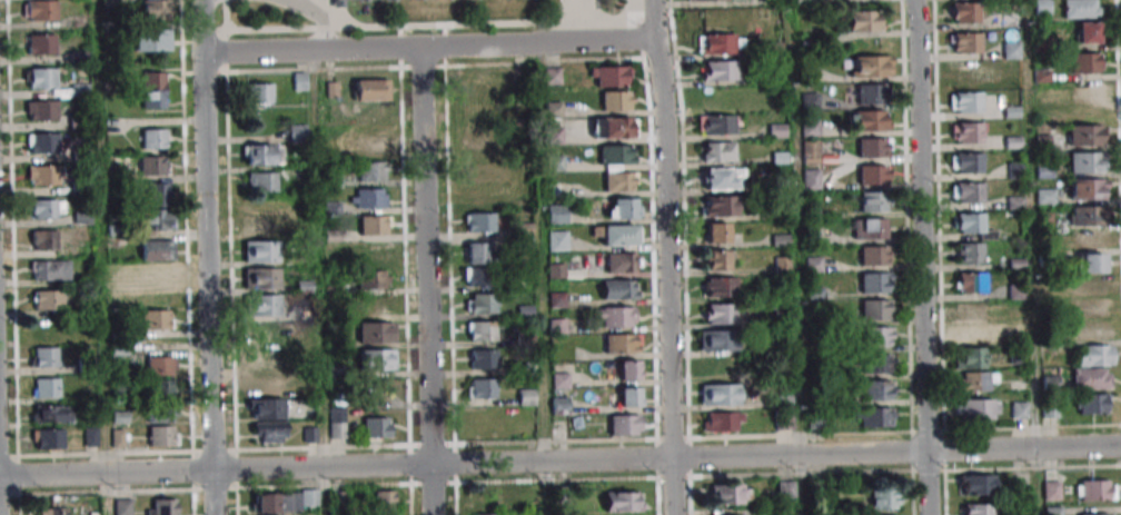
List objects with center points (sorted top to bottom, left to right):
building: (705, 0)
building: (1081, 8)
building: (153, 9)
building: (40, 10)
building: (964, 12)
road: (317, 17)
road: (567, 18)
building: (864, 21)
road: (201, 27)
building: (1088, 32)
building: (151, 40)
building: (964, 42)
building: (718, 43)
building: (41, 44)
road: (427, 48)
building: (1085, 62)
building: (871, 66)
building: (718, 70)
building: (964, 71)
building: (609, 76)
building: (42, 78)
building: (300, 81)
building: (485, 87)
building: (152, 90)
building: (371, 90)
building: (260, 92)
building: (870, 92)
building: (1084, 93)
building: (615, 100)
building: (965, 101)
building: (41, 110)
building: (477, 115)
building: (867, 120)
building: (553, 122)
building: (716, 125)
building: (613, 127)
building: (297, 132)
building: (966, 132)
building: (1084, 135)
building: (153, 139)
building: (478, 141)
building: (42, 142)
building: (371, 145)
building: (873, 147)
building: (717, 151)
building: (810, 152)
building: (264, 153)
building: (616, 153)
building: (1085, 161)
building: (966, 162)
building: (153, 165)
building: (480, 168)
building: (371, 171)
building: (43, 175)
building: (873, 175)
building: (721, 178)
building: (810, 179)
building: (262, 181)
building: (619, 181)
building: (1088, 189)
building: (966, 191)
building: (157, 194)
building: (478, 196)
building: (1045, 196)
building: (367, 198)
building: (872, 201)
building: (718, 206)
building: (47, 208)
building: (623, 208)
building: (556, 214)
building: (1088, 215)
building: (155, 219)
building: (479, 221)
building: (258, 224)
building: (373, 225)
building: (971, 225)
building: (869, 228)
building: (716, 232)
building: (621, 235)
building: (1089, 239)
building: (43, 240)
building: (556, 240)
building: (157, 249)
building: (261, 251)
building: (376, 251)
building: (970, 252)
building: (476, 254)
building: (874, 255)
road: (666, 257)
road: (921, 257)
building: (716, 260)
building: (622, 263)
building: (1090, 263)
building: (49, 270)
building: (155, 274)
building: (475, 276)
building: (260, 278)
building: (373, 279)
road: (426, 281)
building: (875, 283)
building: (971, 283)
road: (207, 285)
building: (1090, 286)
building: (720, 287)
building: (120, 288)
building: (618, 289)
building: (48, 299)
building: (480, 303)
building: (262, 305)
building: (375, 305)
building: (876, 309)
building: (970, 311)
building: (720, 314)
building: (615, 316)
building: (156, 319)
building: (1091, 319)
building: (46, 328)
building: (480, 330)
building: (267, 333)
building: (376, 333)
building: (971, 335)
building: (879, 336)
building: (716, 340)
building: (622, 343)
building: (1093, 355)
building: (44, 357)
building: (265, 358)
building: (483, 358)
building: (970, 358)
building: (377, 359)
building: (877, 364)
building: (160, 366)
building: (628, 369)
building: (1091, 378)
building: (976, 380)
building: (47, 387)
building: (160, 388)
building: (482, 388)
building: (879, 390)
building: (720, 394)
road: (1, 395)
building: (629, 397)
building: (1093, 403)
building: (979, 408)
building: (268, 409)
building: (1019, 409)
building: (1050, 409)
building: (161, 413)
building: (52, 414)
building: (875, 417)
building: (784, 420)
building: (722, 422)
building: (624, 425)
building: (376, 427)
building: (162, 436)
building: (117, 437)
building: (48, 438)
road: (560, 462)
building: (976, 485)
building: (786, 488)
building: (1094, 489)
building: (1051, 491)
building: (727, 494)
building: (310, 496)
building: (483, 498)
building: (884, 498)
building: (384, 499)
building: (277, 502)
building: (623, 502)
building: (122, 506)
building: (161, 506)
building: (978, 509)
building: (52, 511)
building: (484, 514)
building: (1094, 514)

